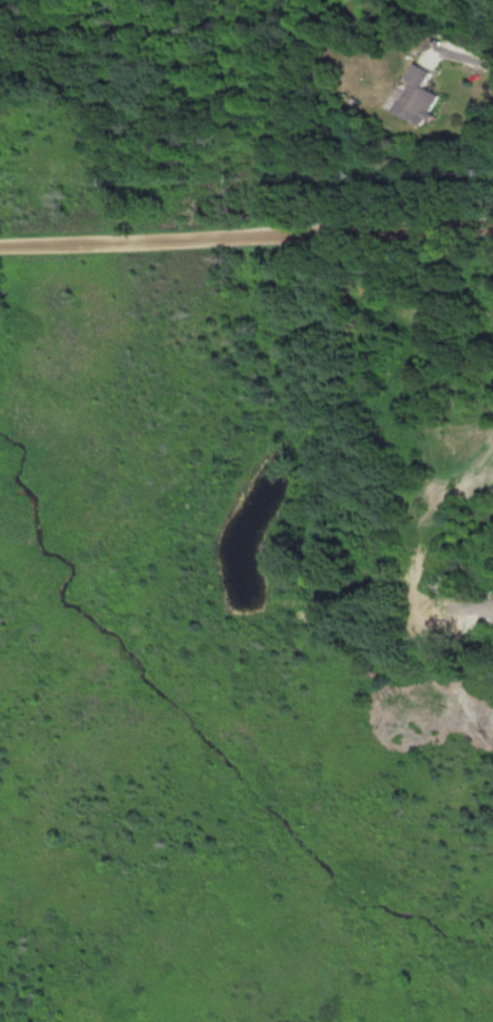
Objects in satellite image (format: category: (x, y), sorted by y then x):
building: (422, 95)
road: (246, 231)

